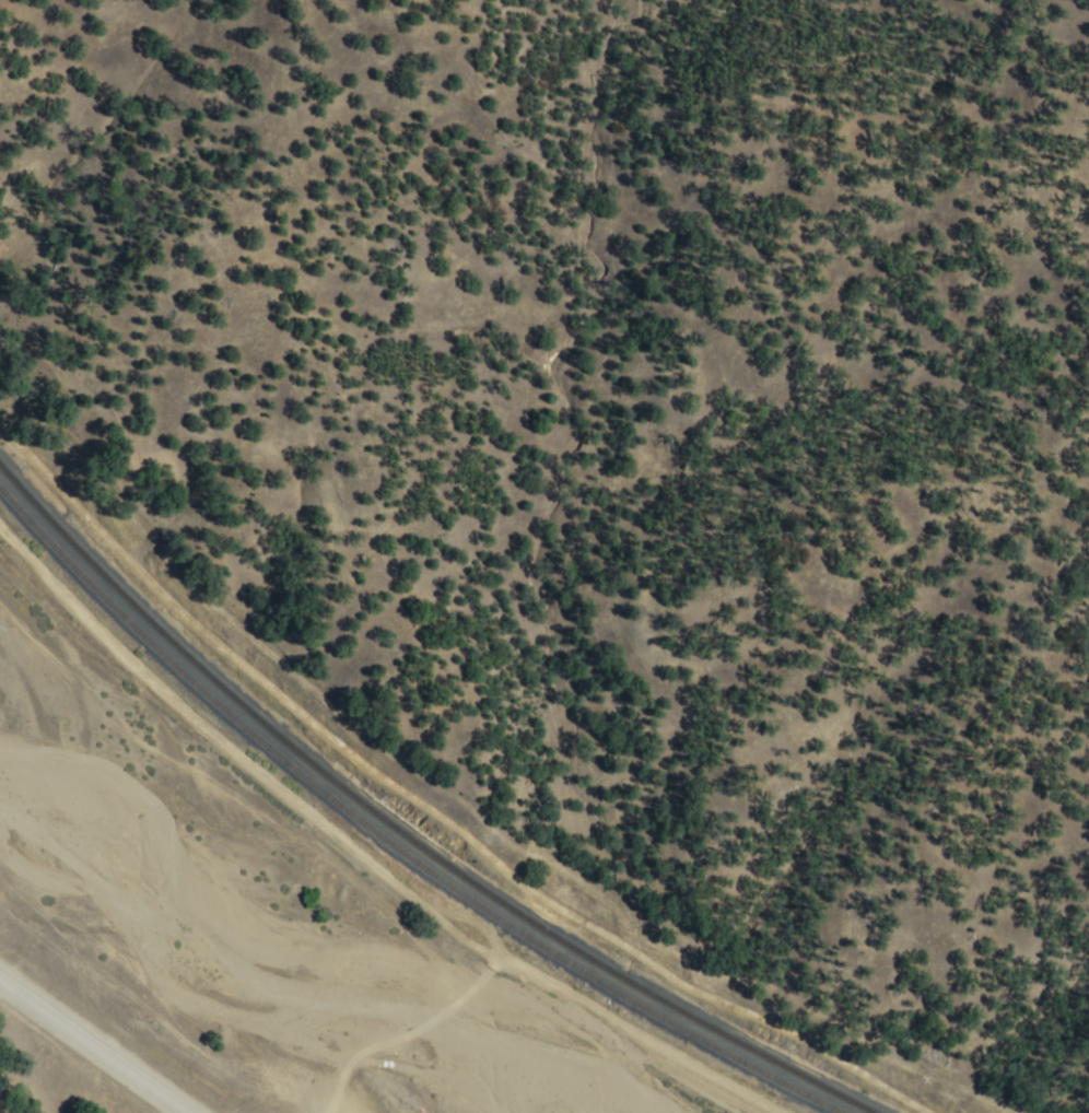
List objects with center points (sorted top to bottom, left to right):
railway: (405, 834)
railway: (393, 842)
river: (268, 930)
road: (91, 1045)
river: (573, 1099)

